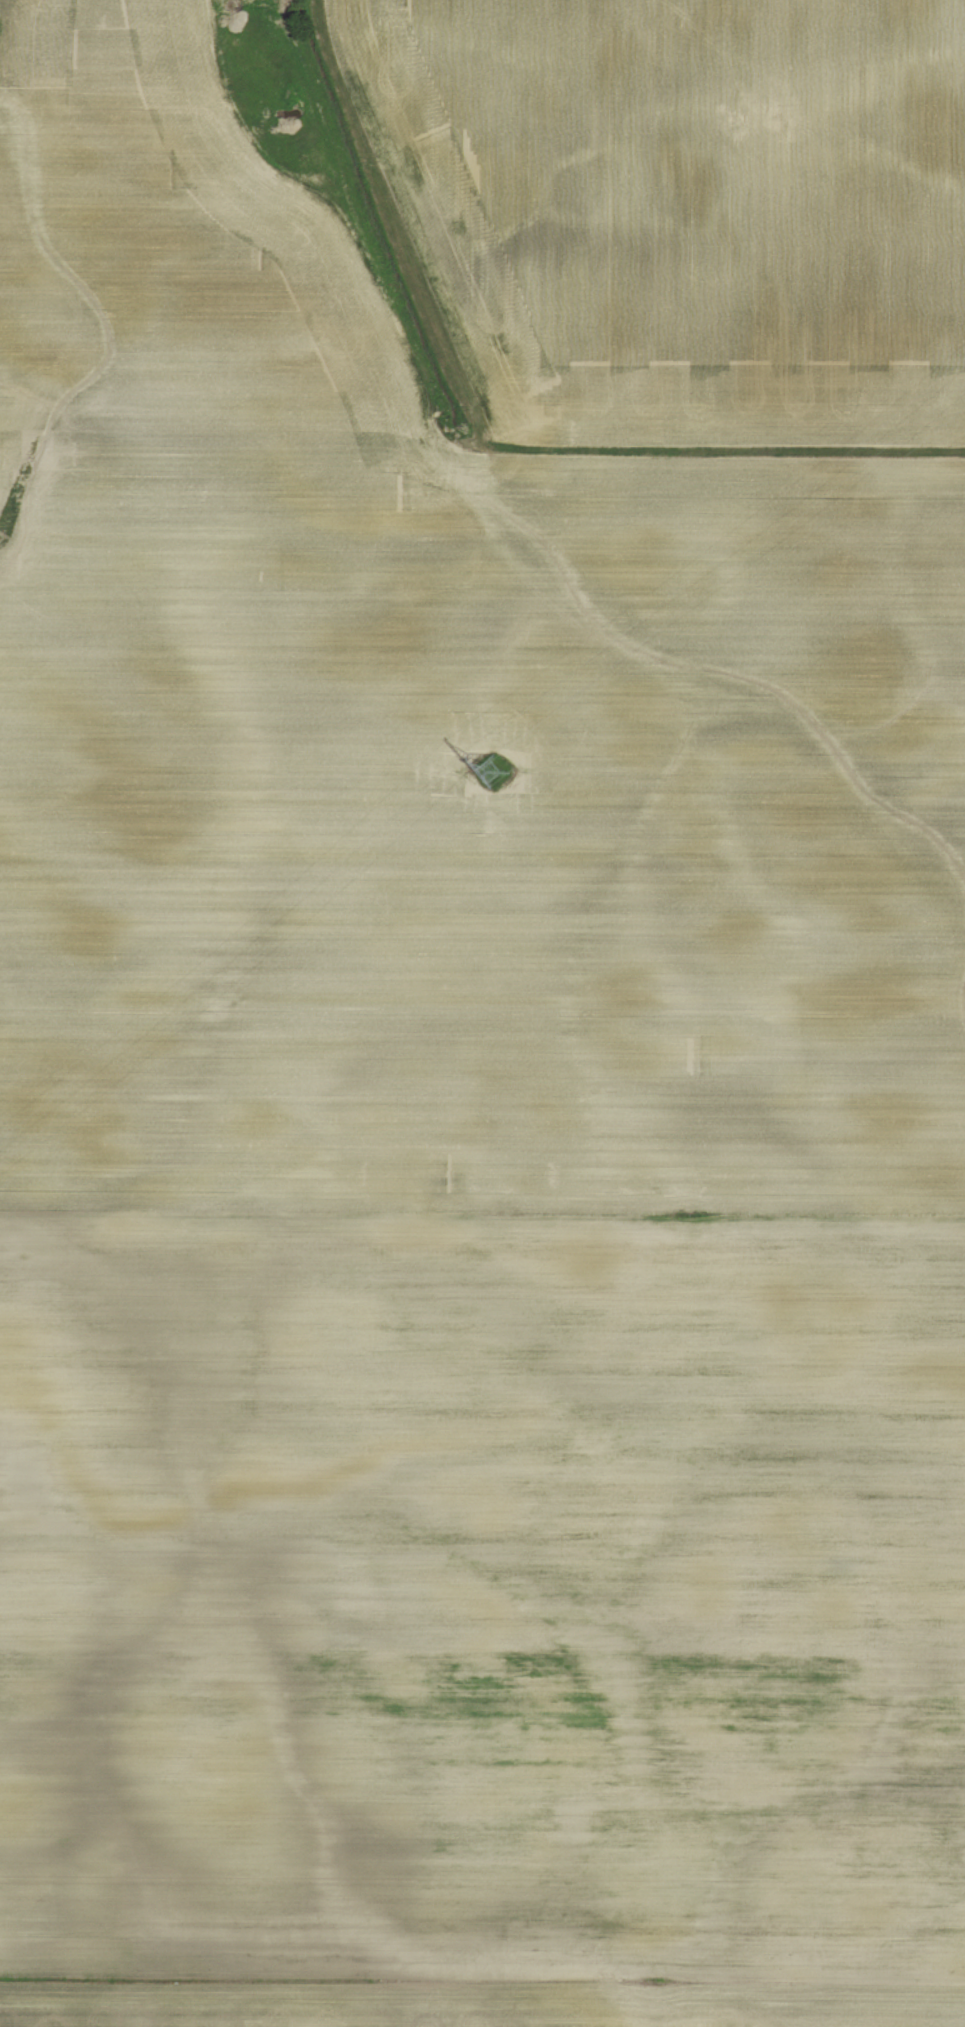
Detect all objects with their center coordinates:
power tower: (488, 771)

